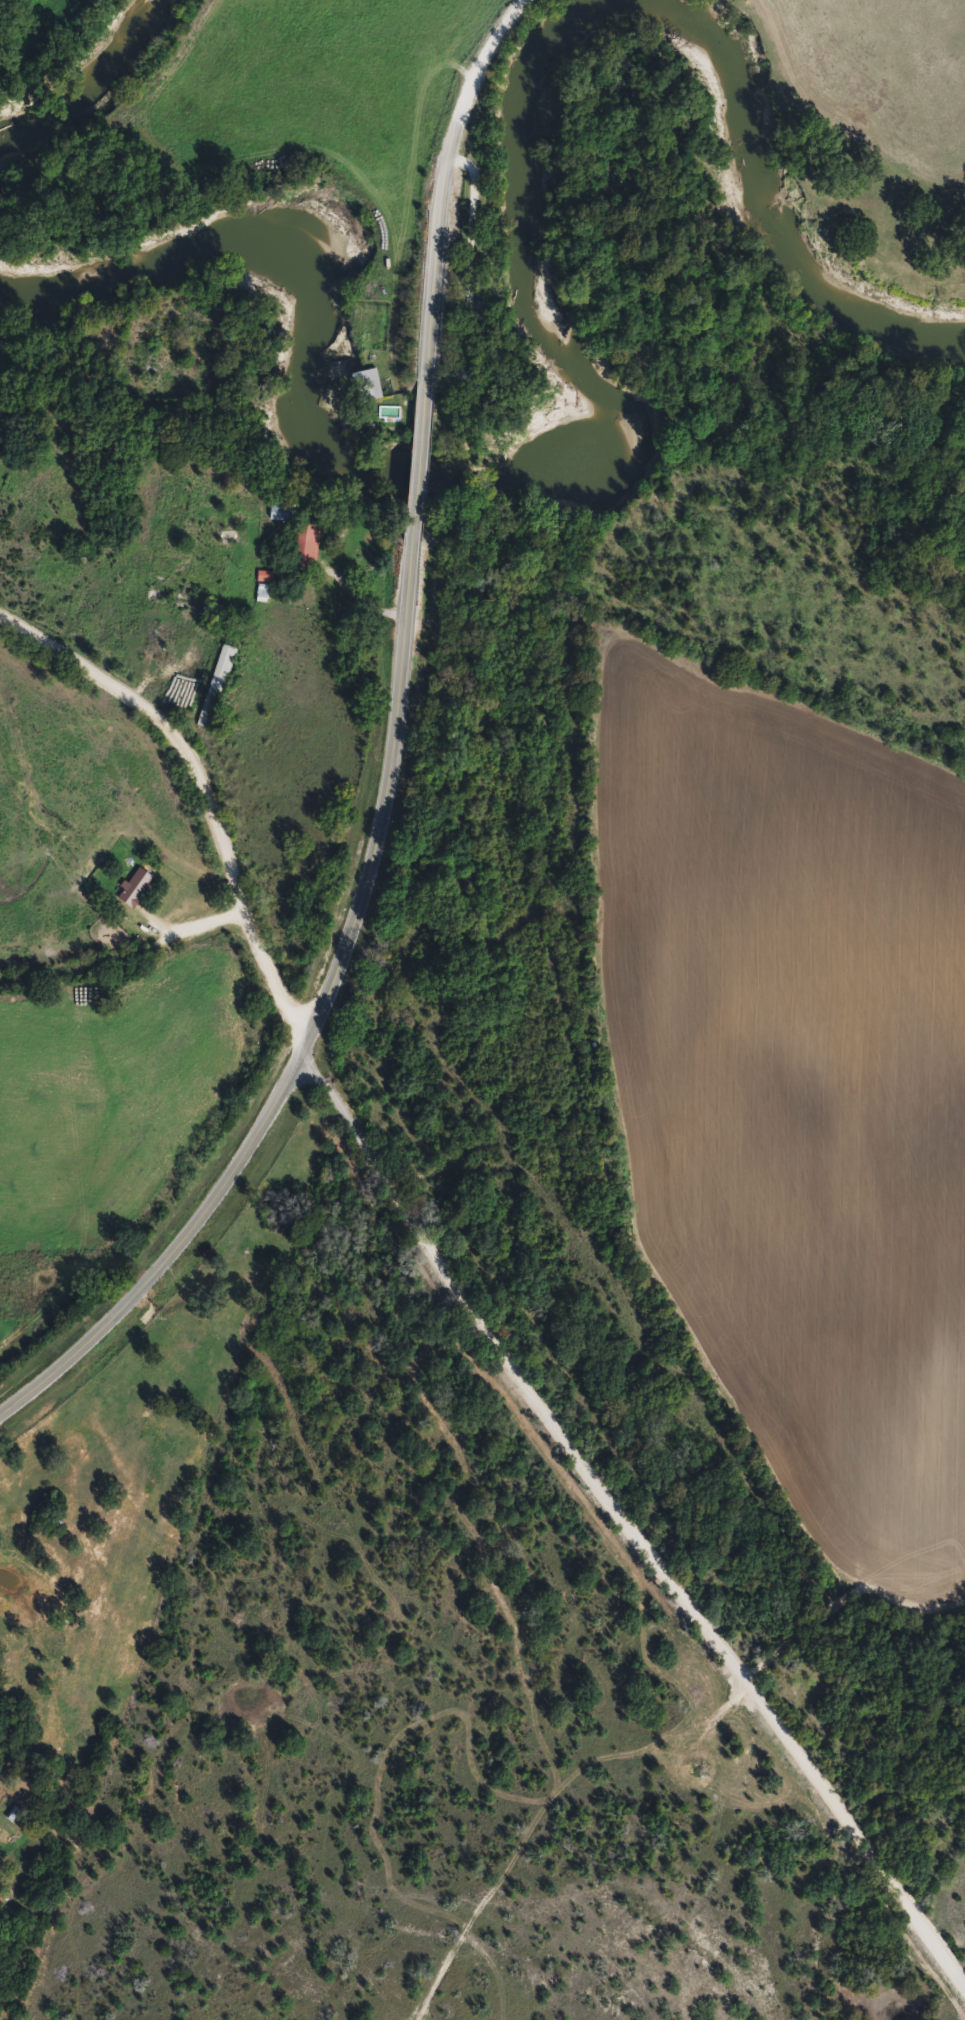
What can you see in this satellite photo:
river: (95, 82)
road: (442, 188)
river: (587, 374)
building: (375, 384)
road: (414, 476)
building: (283, 512)
building: (310, 548)
building: (264, 586)
building: (219, 686)
road: (197, 807)
building: (138, 886)
road: (118, 948)
road: (311, 1035)
road: (631, 1536)
road: (838, 1604)

